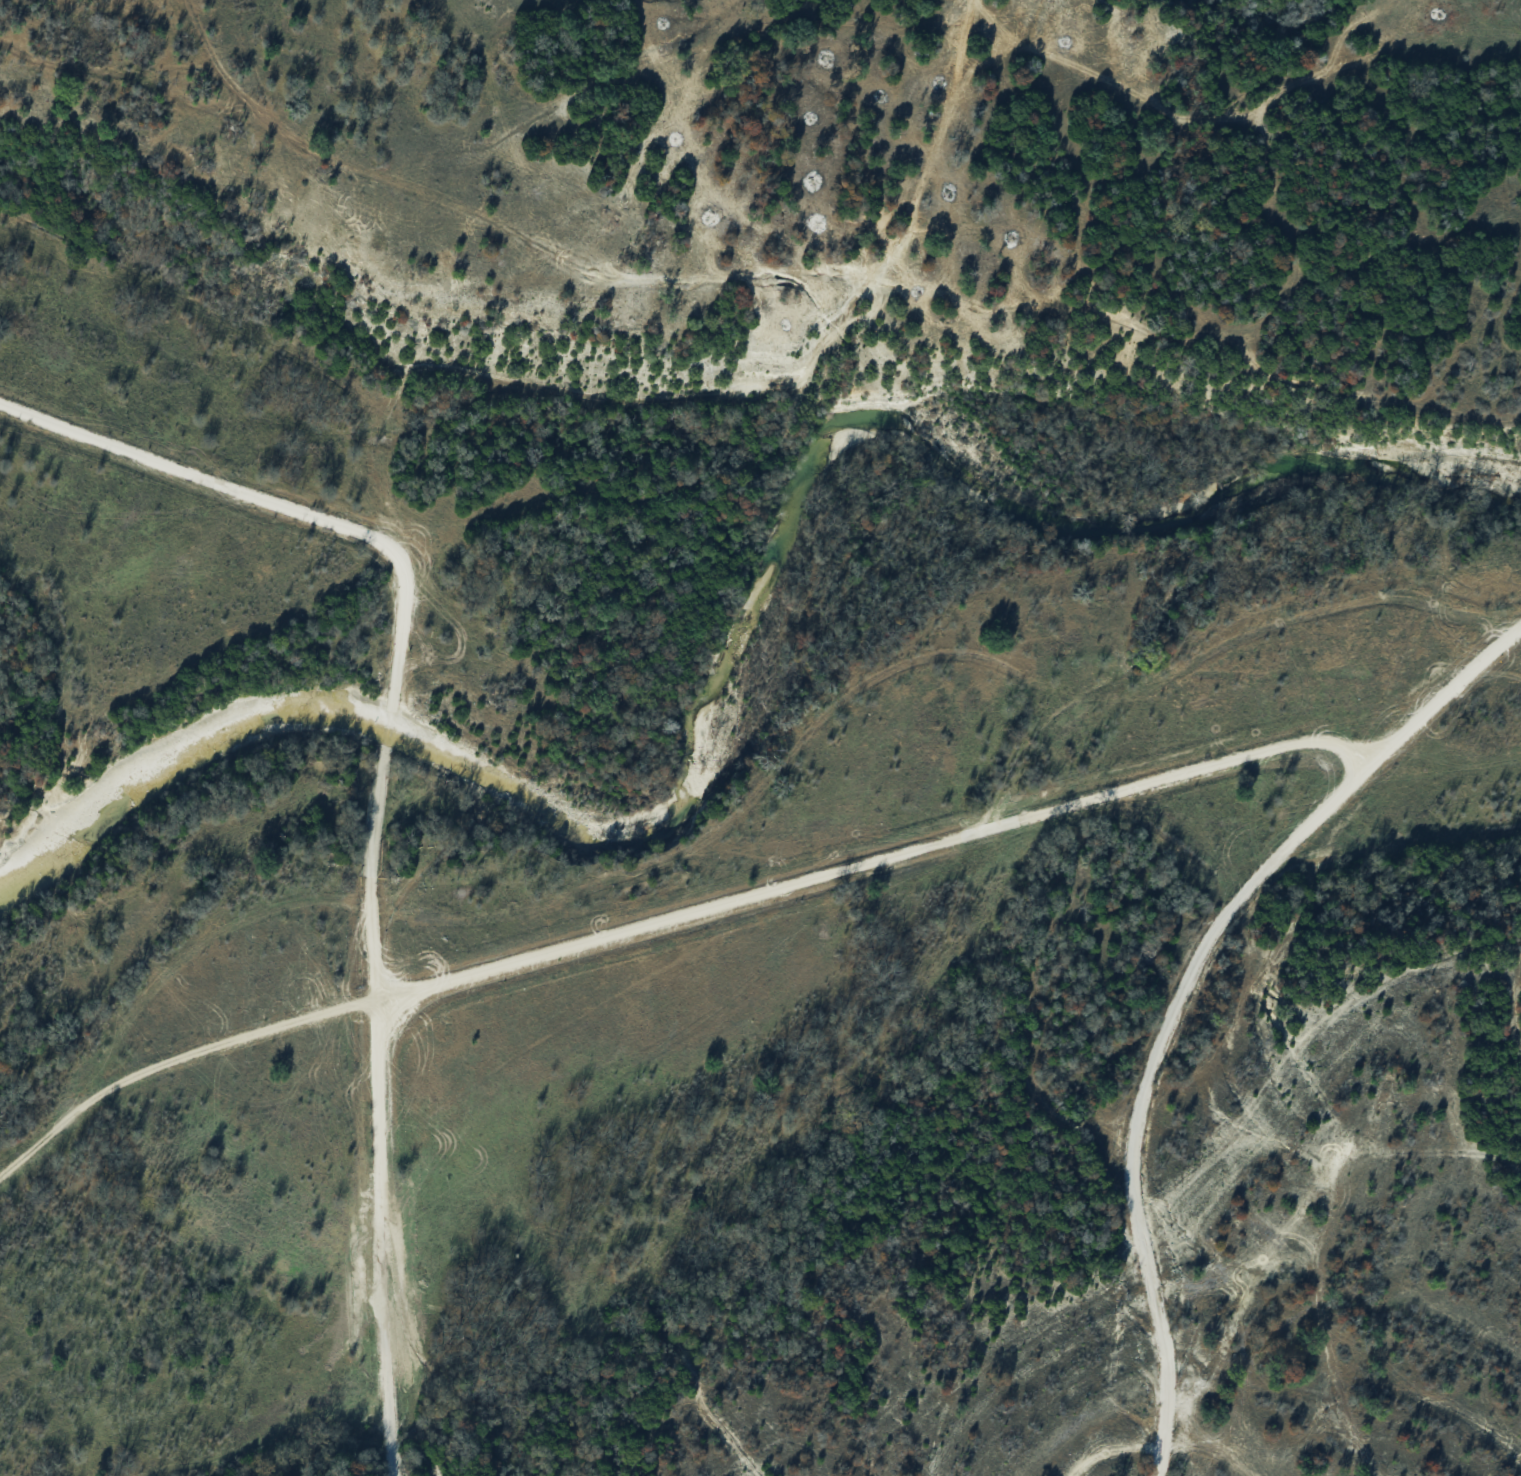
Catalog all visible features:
road: (1380, 742)
road: (368, 799)
road: (667, 908)

